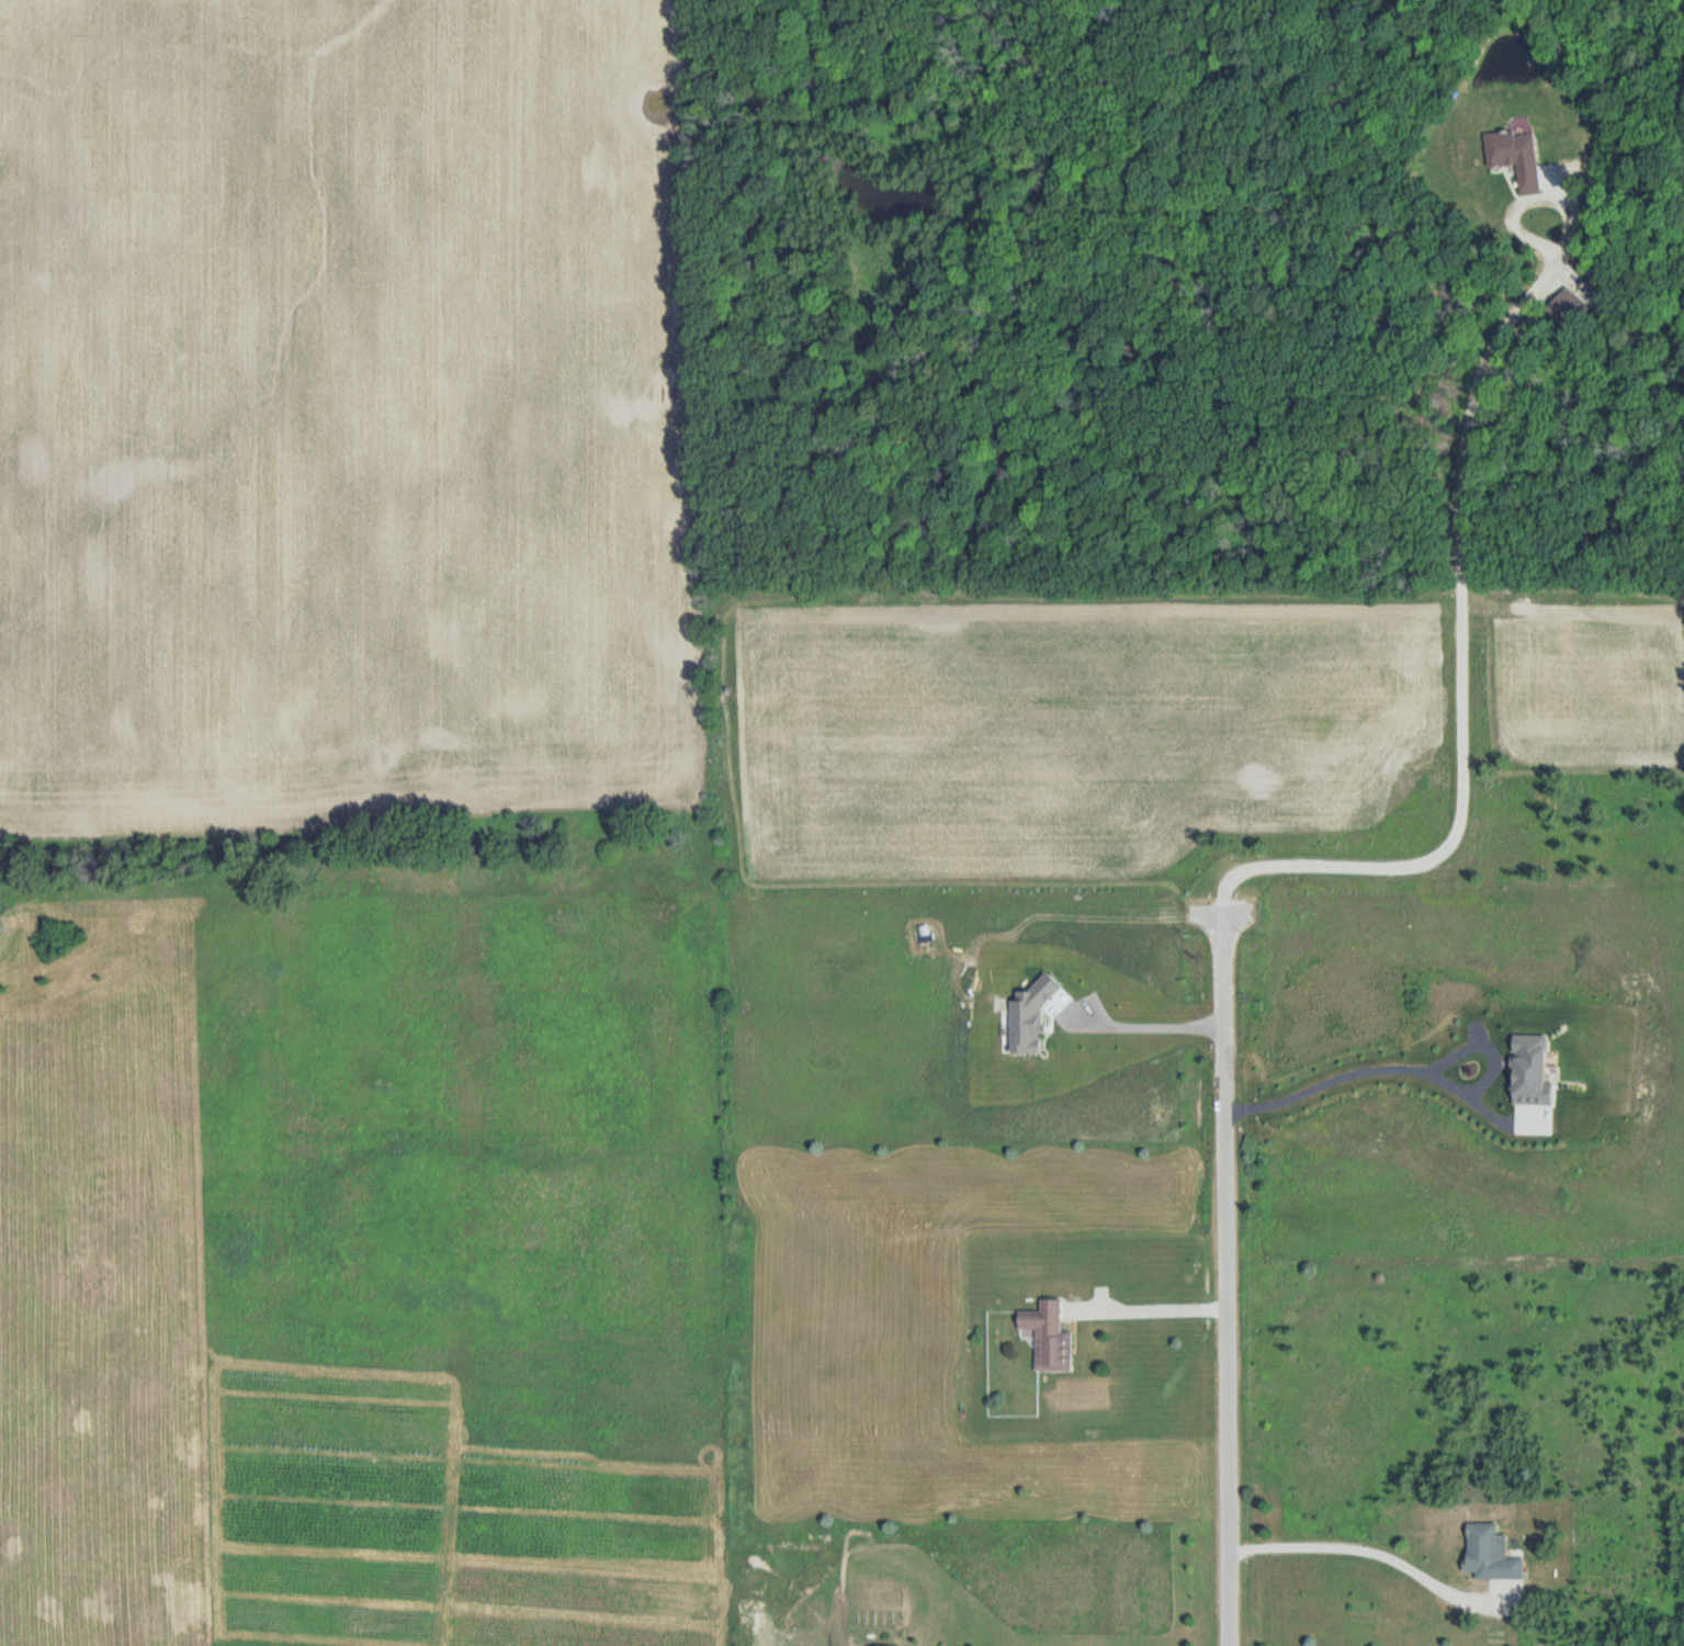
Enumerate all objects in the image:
building: (1516, 157)
crop: (348, 408)
road: (1465, 628)
road: (1225, 1275)
road: (1148, 1308)
building: (1050, 1337)
road: (1375, 1548)
building: (1492, 1554)

